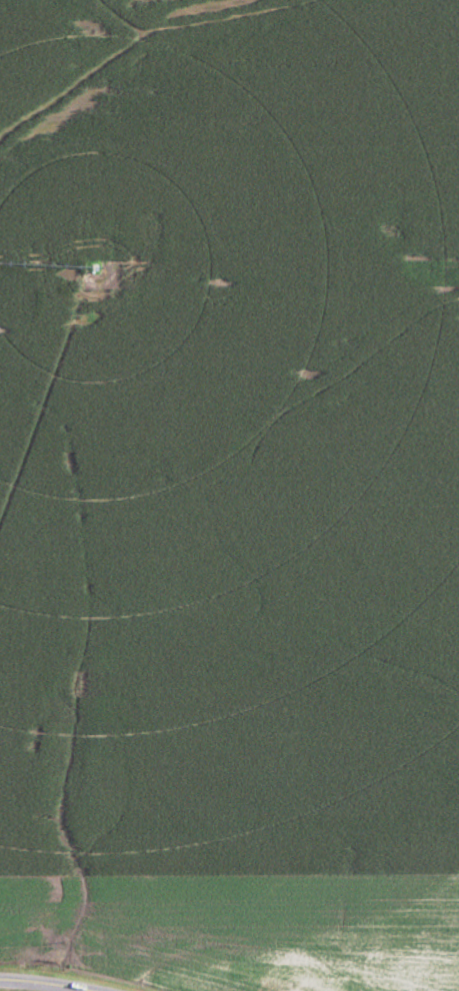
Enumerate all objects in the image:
road: (48, 983)

